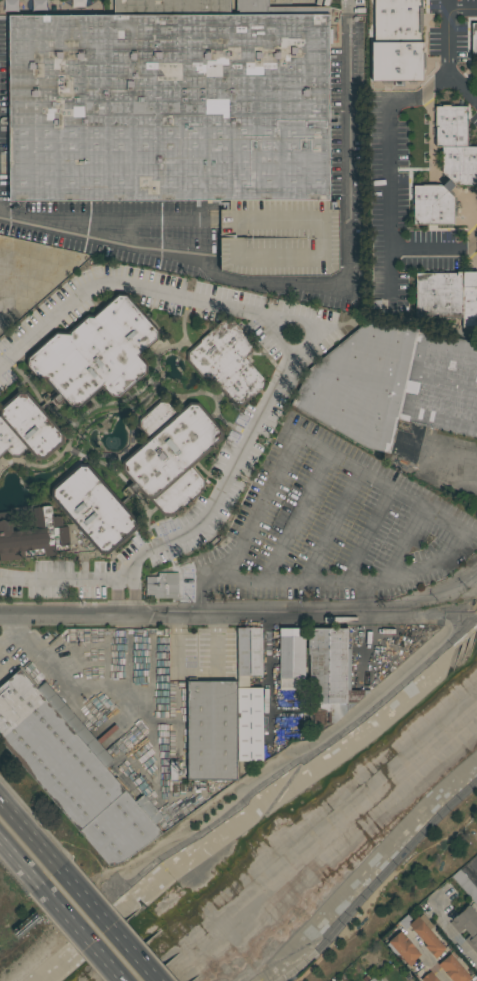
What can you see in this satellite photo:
road: (461, 10)
building: (397, 21)
road: (444, 35)
building: (474, 38)
building: (392, 61)
building: (184, 119)
building: (451, 126)
road: (393, 161)
building: (459, 165)
building: (433, 204)
road: (308, 286)
building: (438, 295)
building: (469, 305)
road: (315, 330)
building: (96, 354)
building: (226, 362)
building: (393, 384)
building: (27, 428)
road: (295, 438)
building: (170, 455)
road: (451, 465)
building: (94, 508)
building: (33, 536)
road: (411, 572)
road: (62, 579)
road: (286, 580)
building: (163, 585)
road: (241, 612)
building: (292, 659)
building: (330, 675)
building: (250, 695)
building: (212, 730)
building: (73, 769)
road: (241, 796)
road: (33, 836)
river: (317, 843)
road: (433, 844)
road: (22, 865)
road: (377, 881)
building: (466, 885)
park: (401, 891)
building: (467, 925)
road: (112, 927)
building: (427, 935)
road: (83, 936)
road: (454, 938)
building: (404, 947)
road: (316, 962)
building: (454, 969)
road: (436, 970)
building: (429, 977)
building: (375, 978)

